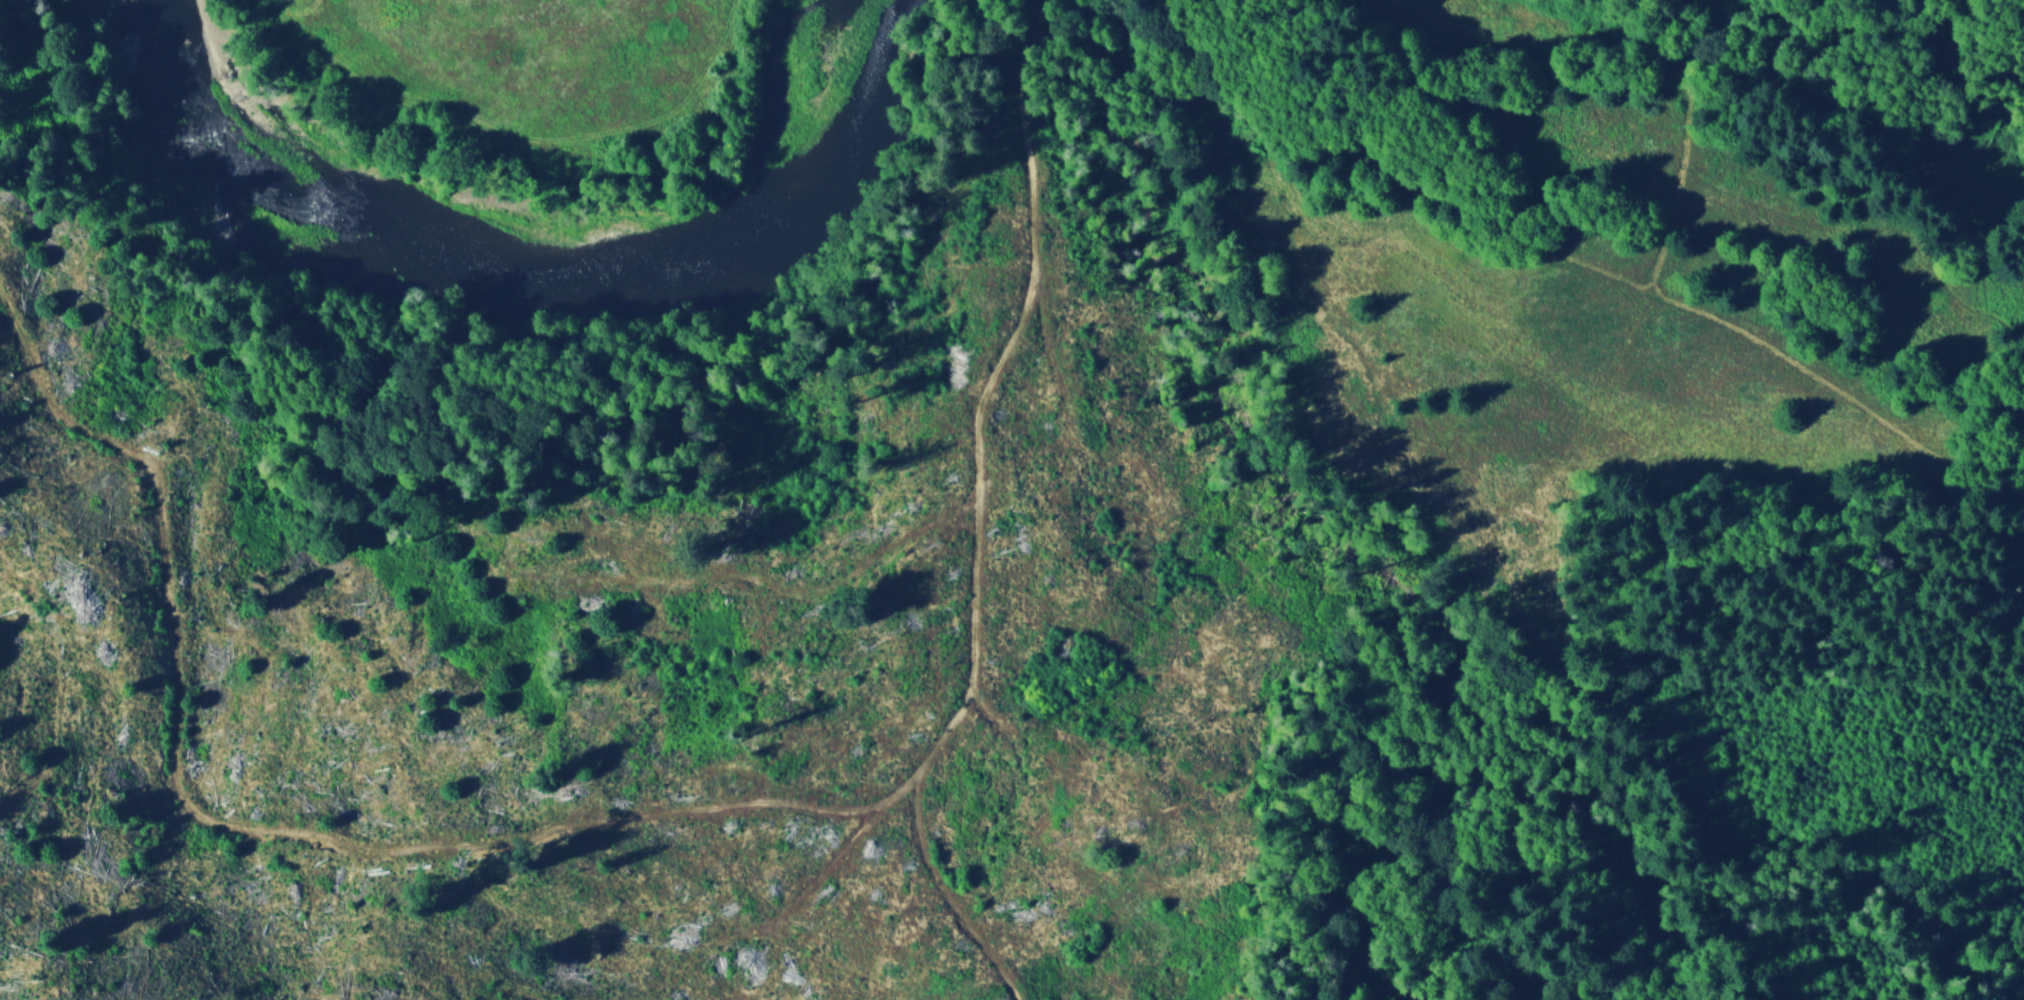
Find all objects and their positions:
river: (545, 249)

